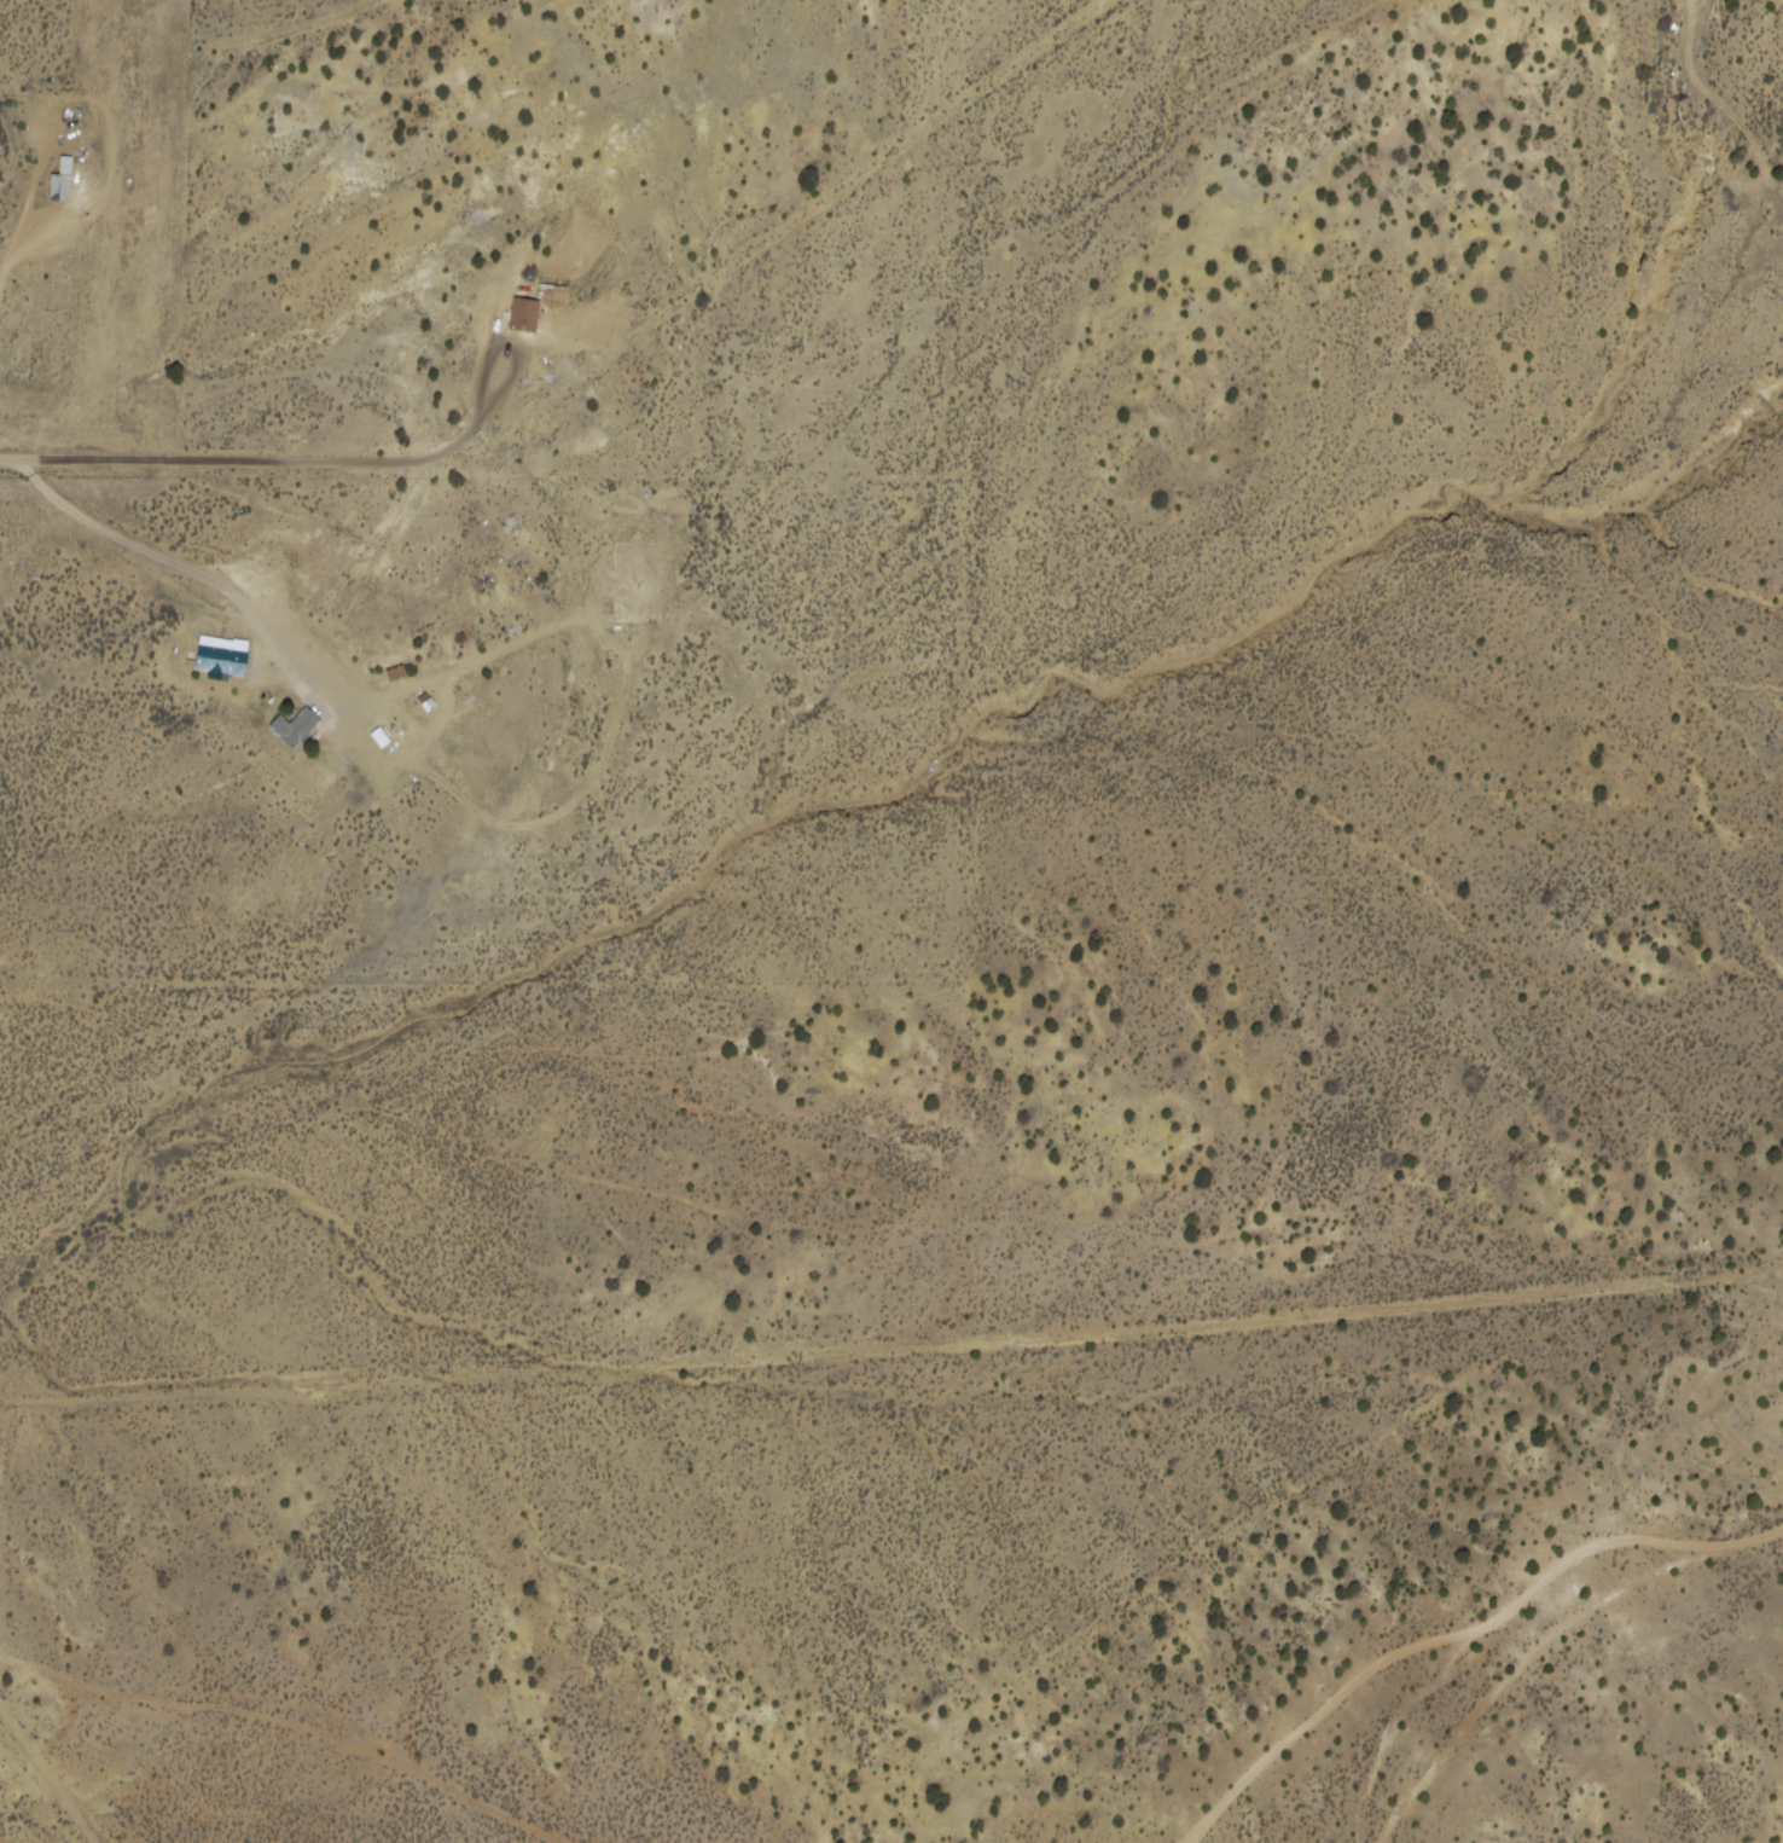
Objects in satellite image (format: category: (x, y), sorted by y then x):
building: (71, 184)
road: (46, 185)
road: (111, 189)
building: (561, 295)
building: (533, 318)
road: (354, 463)
road: (187, 566)
road: (184, 593)
building: (231, 657)
building: (405, 673)
building: (437, 705)
road: (460, 726)
building: (304, 729)
building: (390, 742)
road: (891, 1349)
road: (4, 1506)
road: (1522, 1621)
road: (1344, 1700)
road: (289, 1726)
road: (51, 1766)

